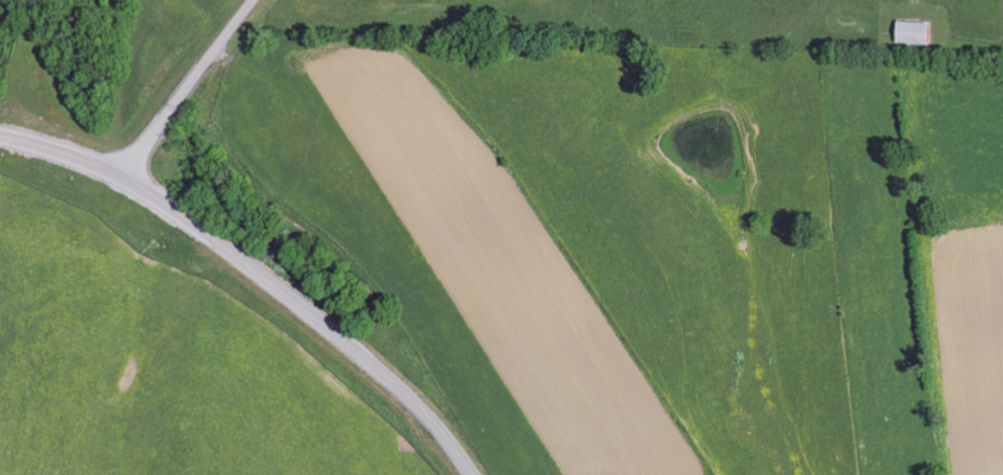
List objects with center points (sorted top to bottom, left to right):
building: (910, 34)
road: (188, 89)
road: (259, 272)

